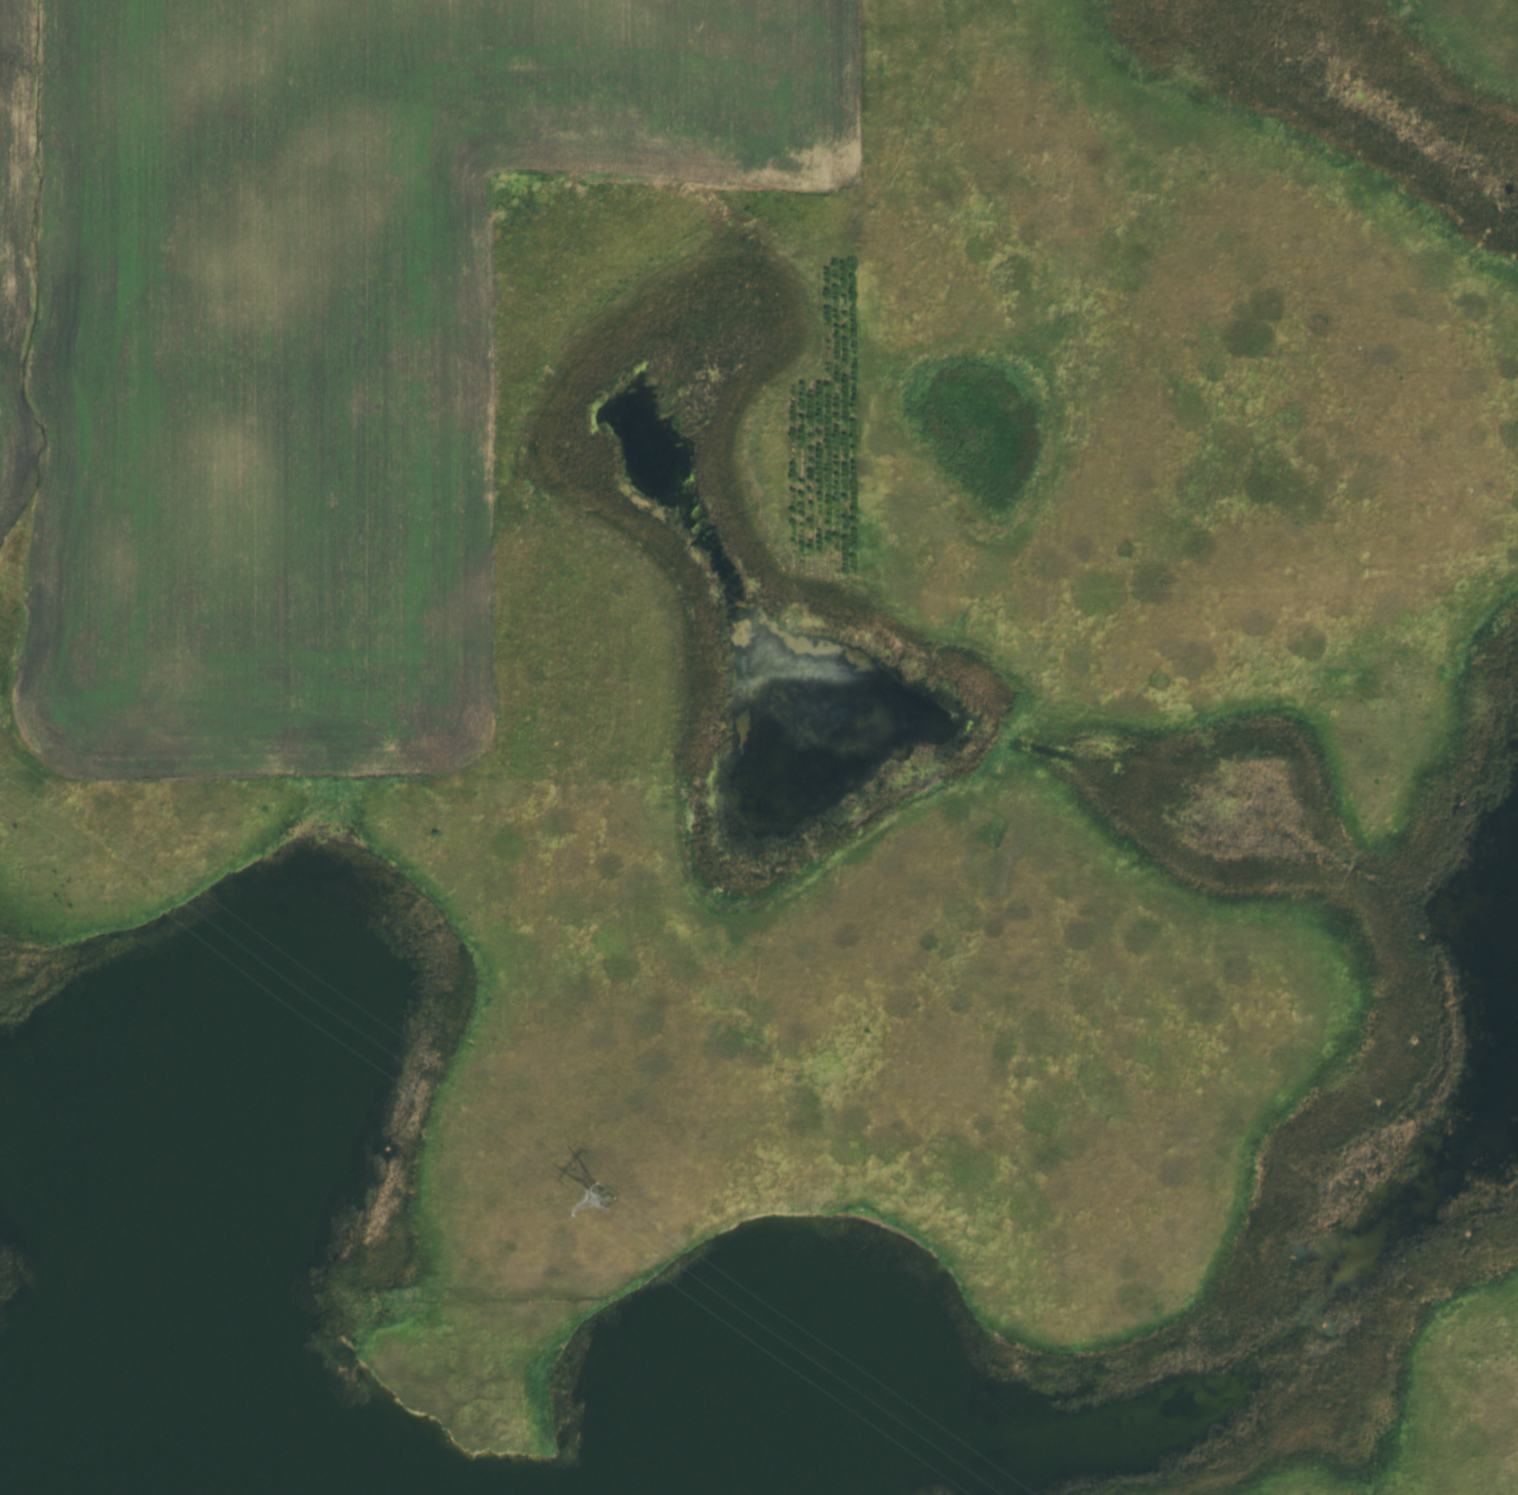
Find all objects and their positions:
power tower: (601, 1216)

